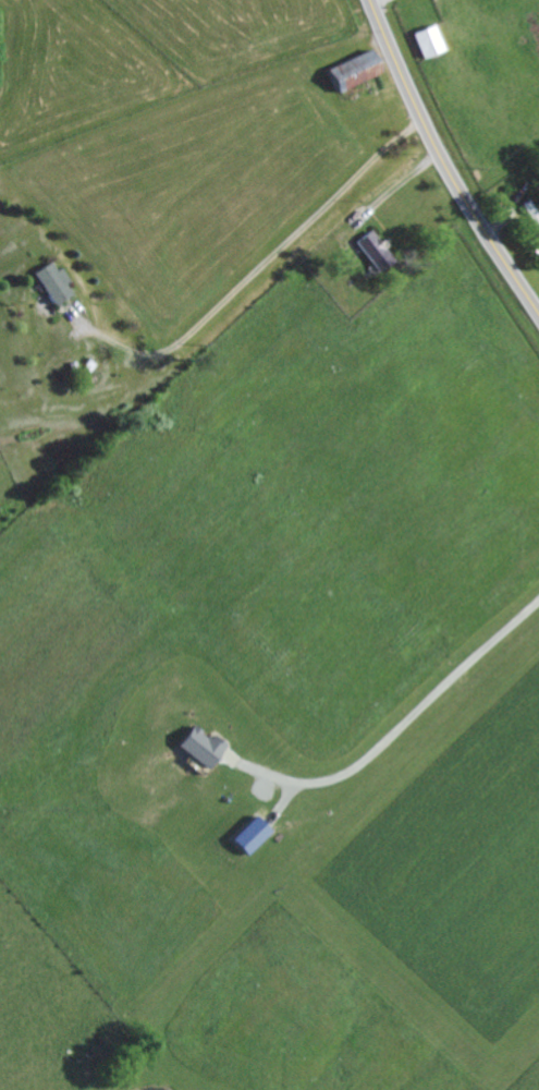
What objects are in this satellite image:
building: (356, 70)
road: (443, 162)
building: (373, 247)
building: (54, 280)
road: (402, 735)
building: (203, 742)

